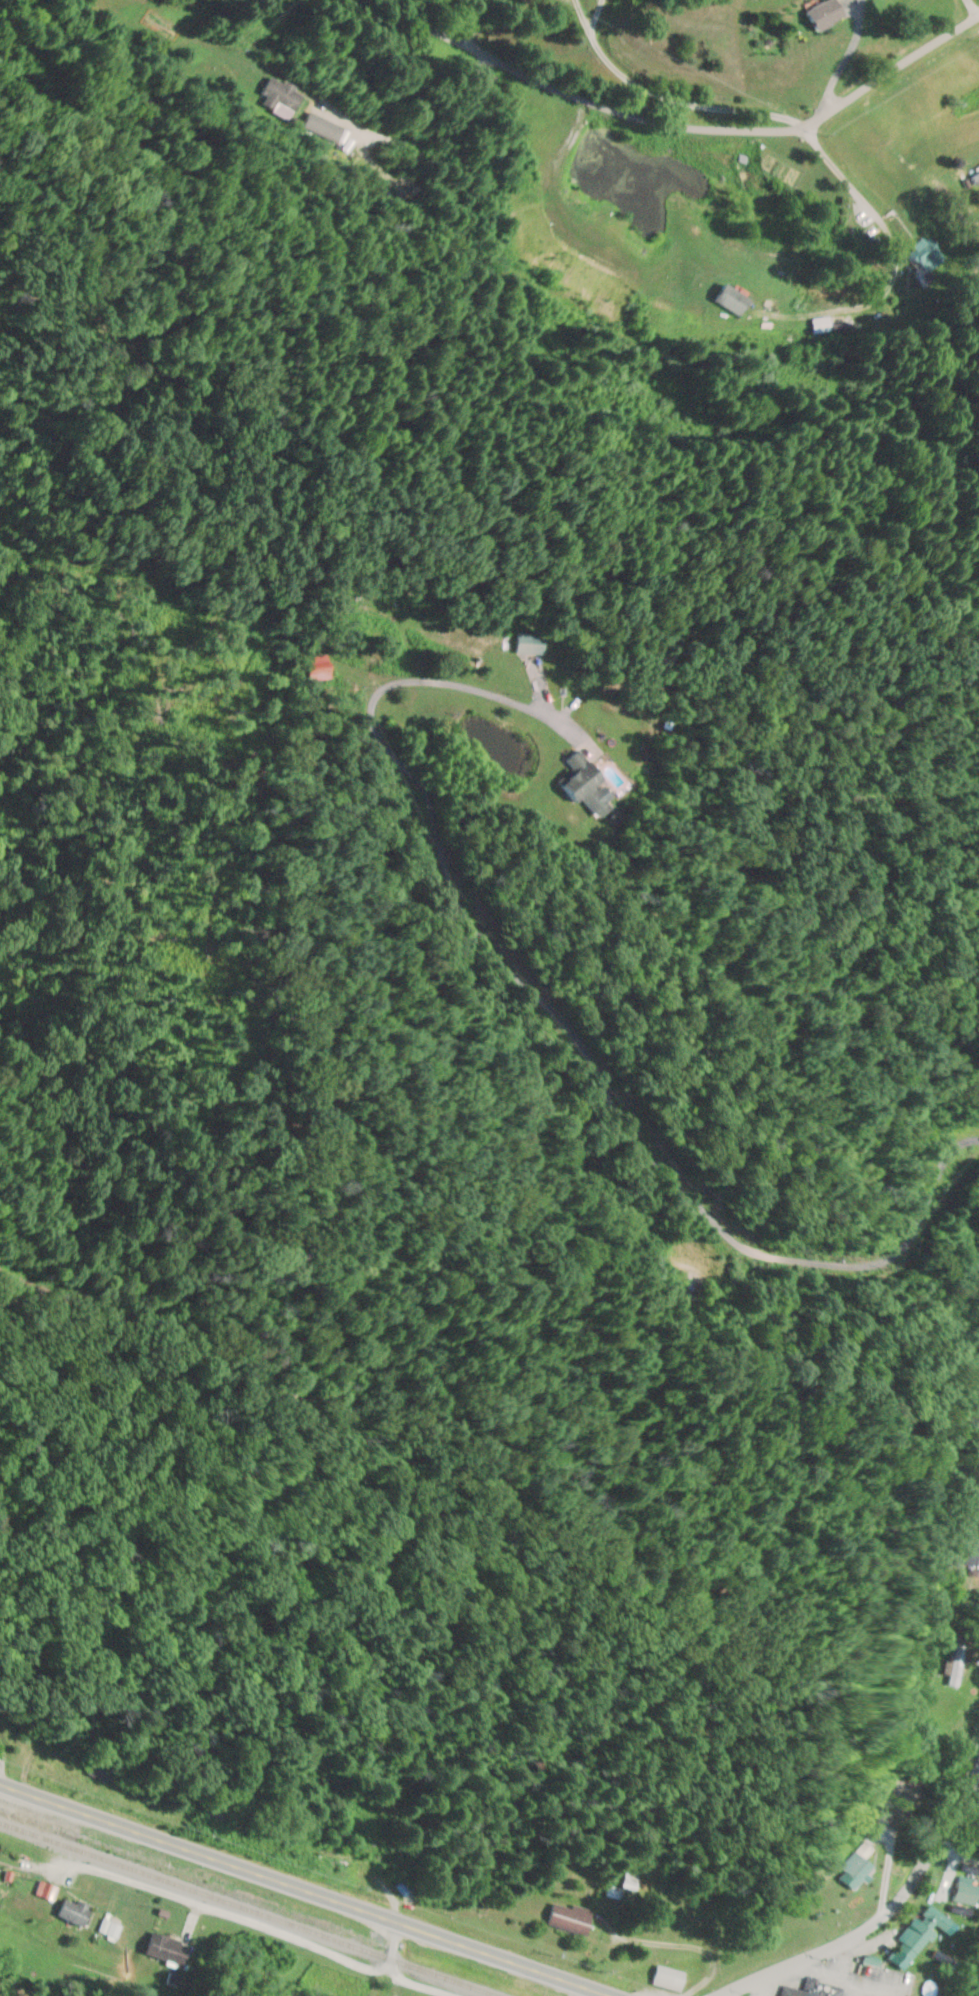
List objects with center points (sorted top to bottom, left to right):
building: (830, 13)
road: (682, 76)
building: (280, 95)
building: (324, 127)
building: (975, 178)
road: (889, 257)
building: (735, 299)
road: (935, 570)
building: (528, 643)
building: (322, 667)
building: (593, 789)
building: (957, 1664)
building: (104, 1771)
building: (341, 1853)
building: (407, 1887)
building: (48, 1889)
road: (307, 1890)
building: (967, 1892)
railway: (251, 1909)
building: (77, 1910)
road: (884, 1912)
building: (573, 1918)
road: (263, 1922)
building: (111, 1927)
building: (924, 1934)
road: (396, 1944)
building: (169, 1947)
building: (672, 1976)
building: (815, 1988)
river: (0, 1995)

